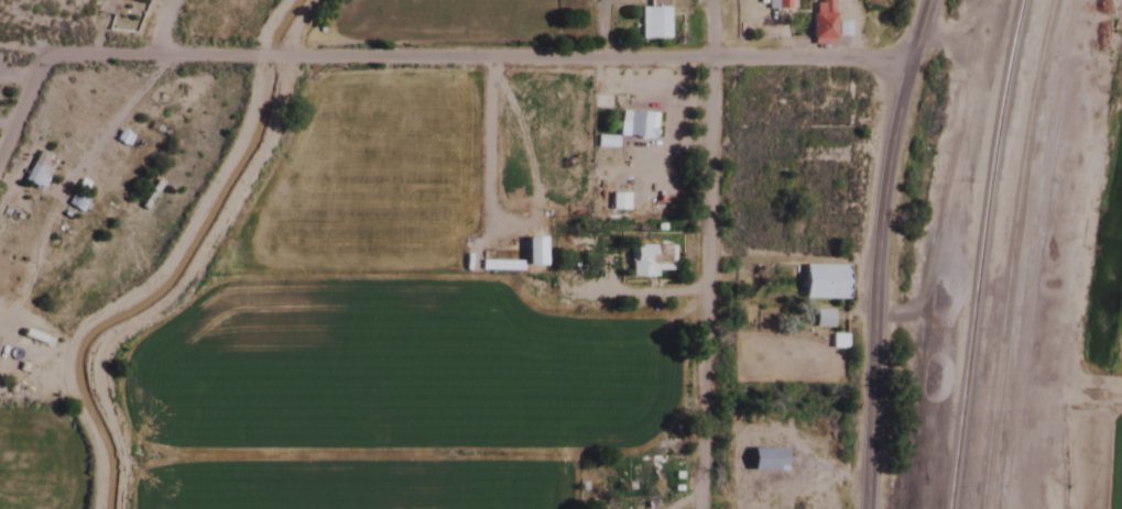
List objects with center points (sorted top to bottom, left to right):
building: (773, 4)
building: (819, 22)
building: (655, 23)
road: (715, 30)
road: (811, 58)
road: (380, 59)
road: (23, 107)
building: (635, 125)
building: (37, 170)
building: (618, 201)
road: (876, 252)
railway: (939, 253)
railway: (979, 253)
railway: (1009, 253)
building: (649, 261)
building: (823, 281)
road: (711, 284)
building: (821, 319)
crop: (1114, 432)
building: (763, 460)

